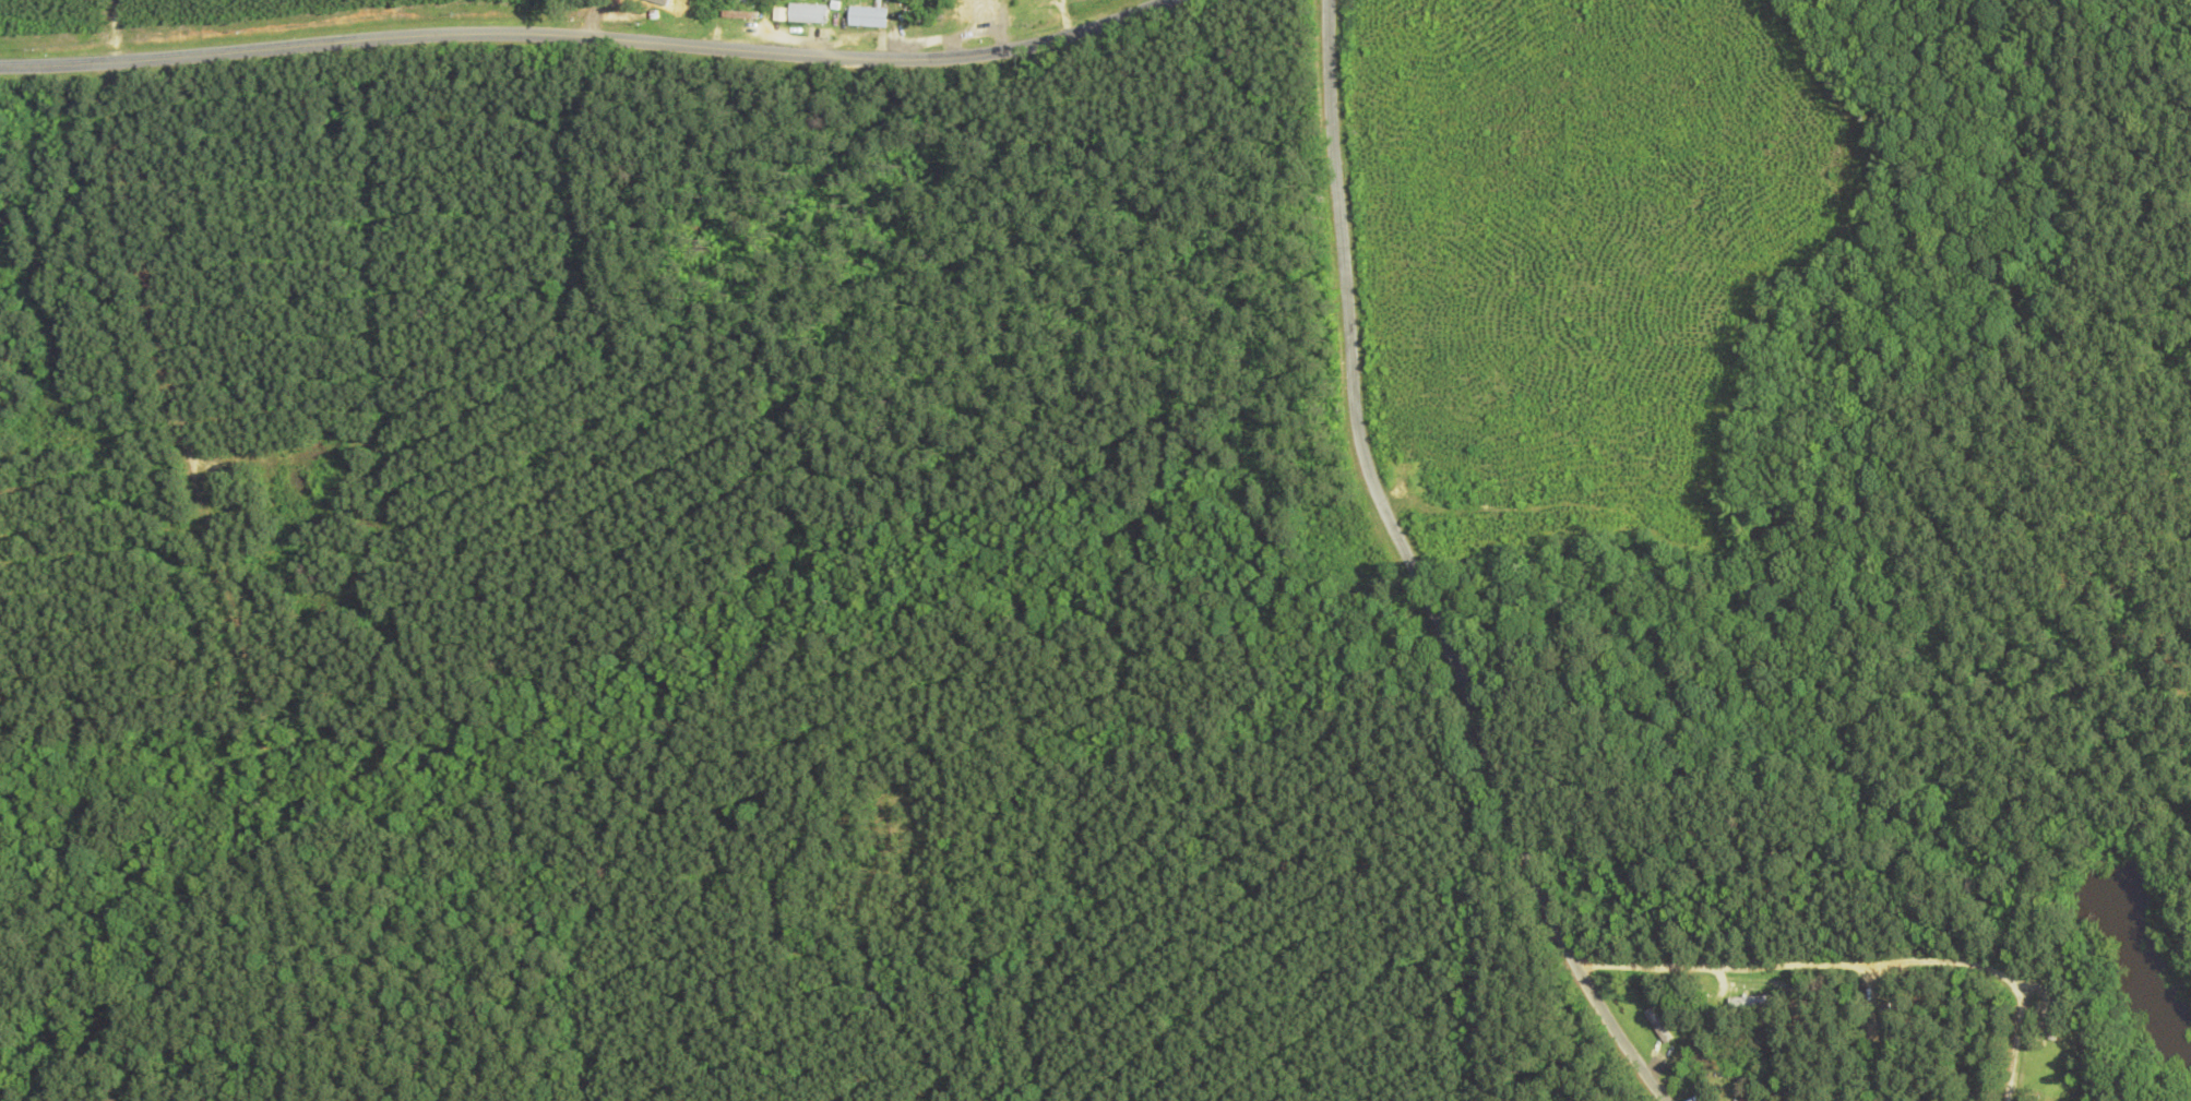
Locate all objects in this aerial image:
building: (980, 0)
building: (676, 8)
building: (802, 15)
building: (864, 19)
road: (237, 27)
road: (588, 37)
road: (1410, 575)
building: (1745, 1006)
building: (1655, 1027)

